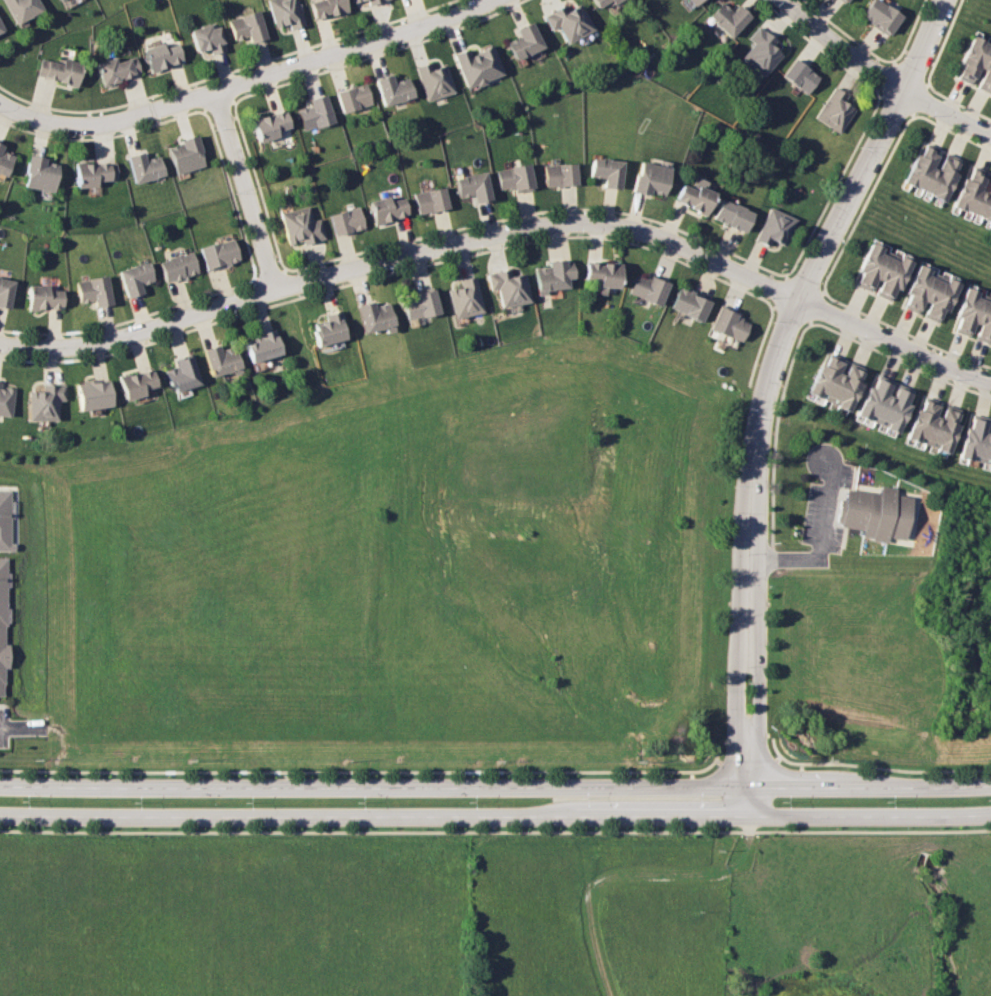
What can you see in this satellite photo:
building: (57, 0)
building: (60, 0)
building: (356, 1)
building: (374, 1)
building: (843, 1)
building: (600, 2)
building: (692, 2)
building: (328, 7)
building: (20, 8)
building: (287, 13)
building: (881, 16)
building: (726, 18)
building: (566, 21)
building: (248, 27)
building: (0, 29)
road: (910, 32)
road: (847, 33)
building: (209, 39)
building: (523, 41)
road: (944, 42)
road: (820, 48)
building: (760, 51)
road: (379, 53)
building: (163, 56)
building: (969, 56)
building: (978, 61)
building: (478, 65)
building: (118, 70)
building: (58, 71)
building: (984, 71)
road: (224, 72)
road: (883, 73)
road: (911, 75)
building: (799, 76)
road: (889, 78)
building: (435, 80)
road: (246, 81)
building: (987, 84)
building: (393, 89)
building: (355, 97)
road: (916, 101)
road: (894, 102)
road: (958, 102)
road: (218, 103)
building: (834, 111)
building: (317, 113)
building: (271, 124)
road: (952, 131)
road: (102, 136)
building: (187, 155)
building: (4, 162)
building: (915, 166)
building: (145, 167)
building: (925, 169)
building: (605, 172)
building: (96, 173)
building: (40, 174)
building: (934, 174)
building: (559, 175)
building: (513, 178)
building: (649, 179)
building: (943, 179)
road: (257, 184)
road: (833, 185)
building: (472, 186)
building: (963, 190)
road: (245, 191)
road: (230, 193)
building: (973, 195)
building: (693, 197)
building: (982, 199)
building: (430, 200)
road: (864, 203)
building: (386, 209)
road: (536, 210)
building: (987, 210)
building: (731, 216)
building: (346, 221)
building: (302, 226)
building: (773, 227)
road: (504, 233)
building: (220, 254)
building: (863, 261)
building: (179, 267)
building: (873, 267)
road: (389, 272)
building: (884, 273)
building: (601, 274)
road: (269, 276)
building: (550, 276)
building: (894, 277)
building: (136, 278)
building: (913, 283)
building: (508, 287)
building: (646, 288)
road: (781, 288)
building: (923, 289)
building: (95, 290)
road: (805, 290)
building: (6, 293)
building: (934, 295)
building: (43, 298)
building: (465, 299)
building: (944, 299)
building: (688, 305)
building: (418, 306)
building: (961, 306)
road: (791, 307)
road: (808, 310)
road: (787, 311)
building: (971, 311)
building: (374, 317)
building: (983, 317)
road: (129, 318)
building: (727, 324)
building: (329, 329)
building: (987, 331)
road: (905, 334)
building: (262, 346)
road: (759, 347)
building: (221, 359)
road: (898, 360)
building: (183, 373)
building: (816, 377)
building: (826, 380)
building: (138, 383)
building: (838, 385)
building: (848, 389)
building: (95, 394)
building: (865, 399)
building: (6, 400)
building: (876, 401)
building: (47, 403)
building: (887, 406)
building: (897, 410)
building: (914, 420)
building: (925, 423)
building: (936, 428)
building: (946, 431)
road: (774, 432)
building: (965, 440)
building: (977, 441)
building: (986, 450)
building: (990, 464)
building: (872, 512)
building: (4, 520)
road: (818, 536)
road: (770, 553)
building: (2, 627)
road: (21, 727)
road: (737, 727)
road: (762, 727)
road: (774, 747)
road: (747, 762)
road: (368, 769)
road: (495, 784)
road: (495, 810)
road: (495, 831)

